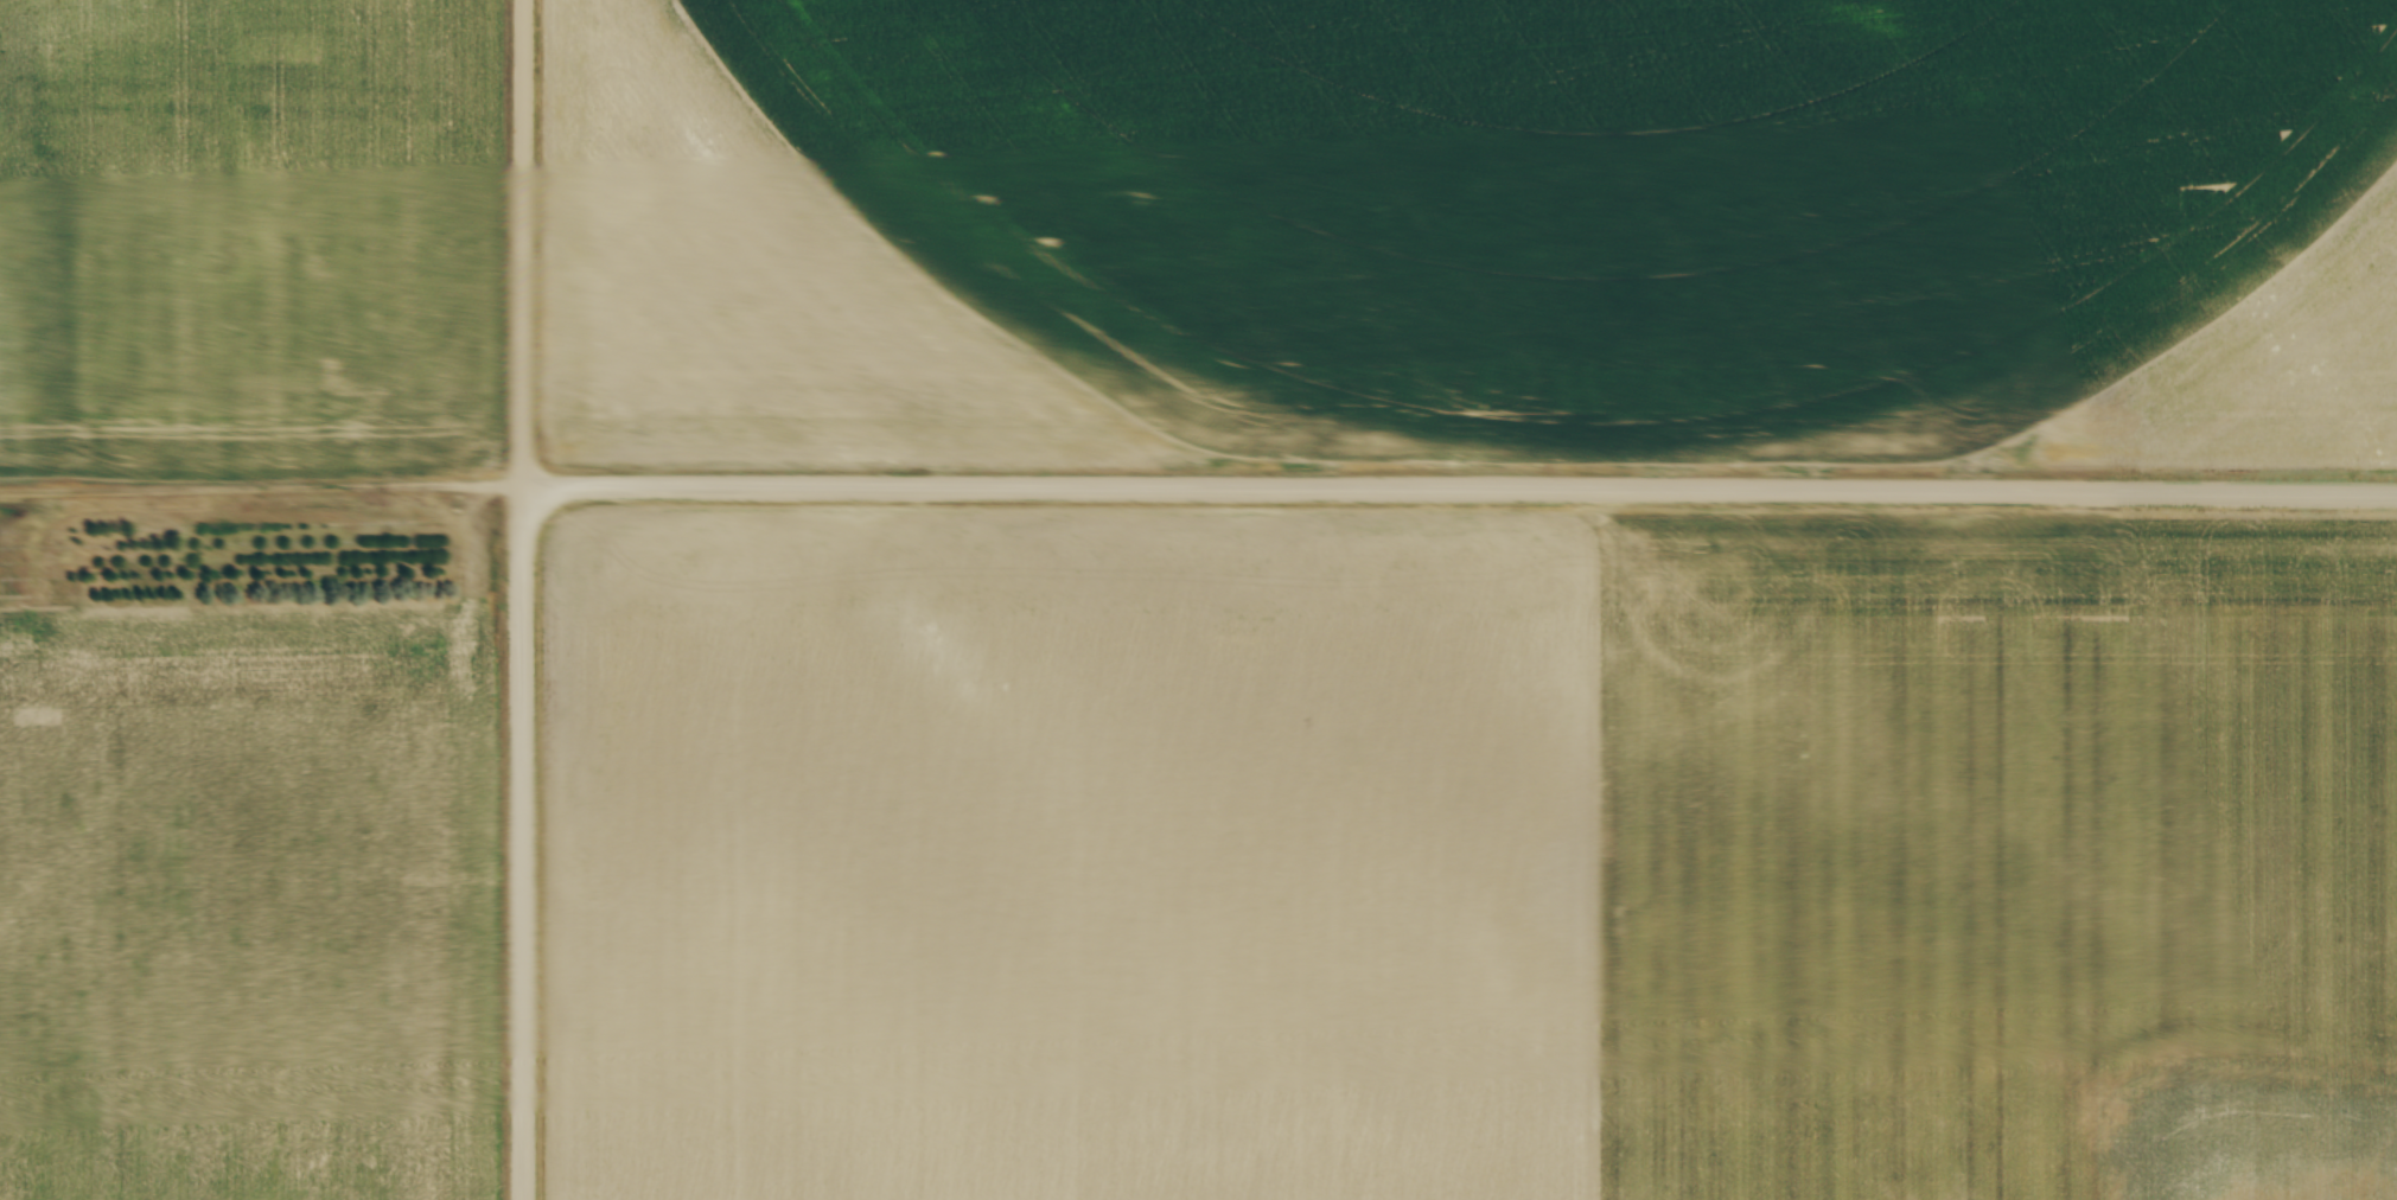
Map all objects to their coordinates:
road: (524, 242)
road: (1459, 491)
road: (521, 842)
crop: (249, 904)

